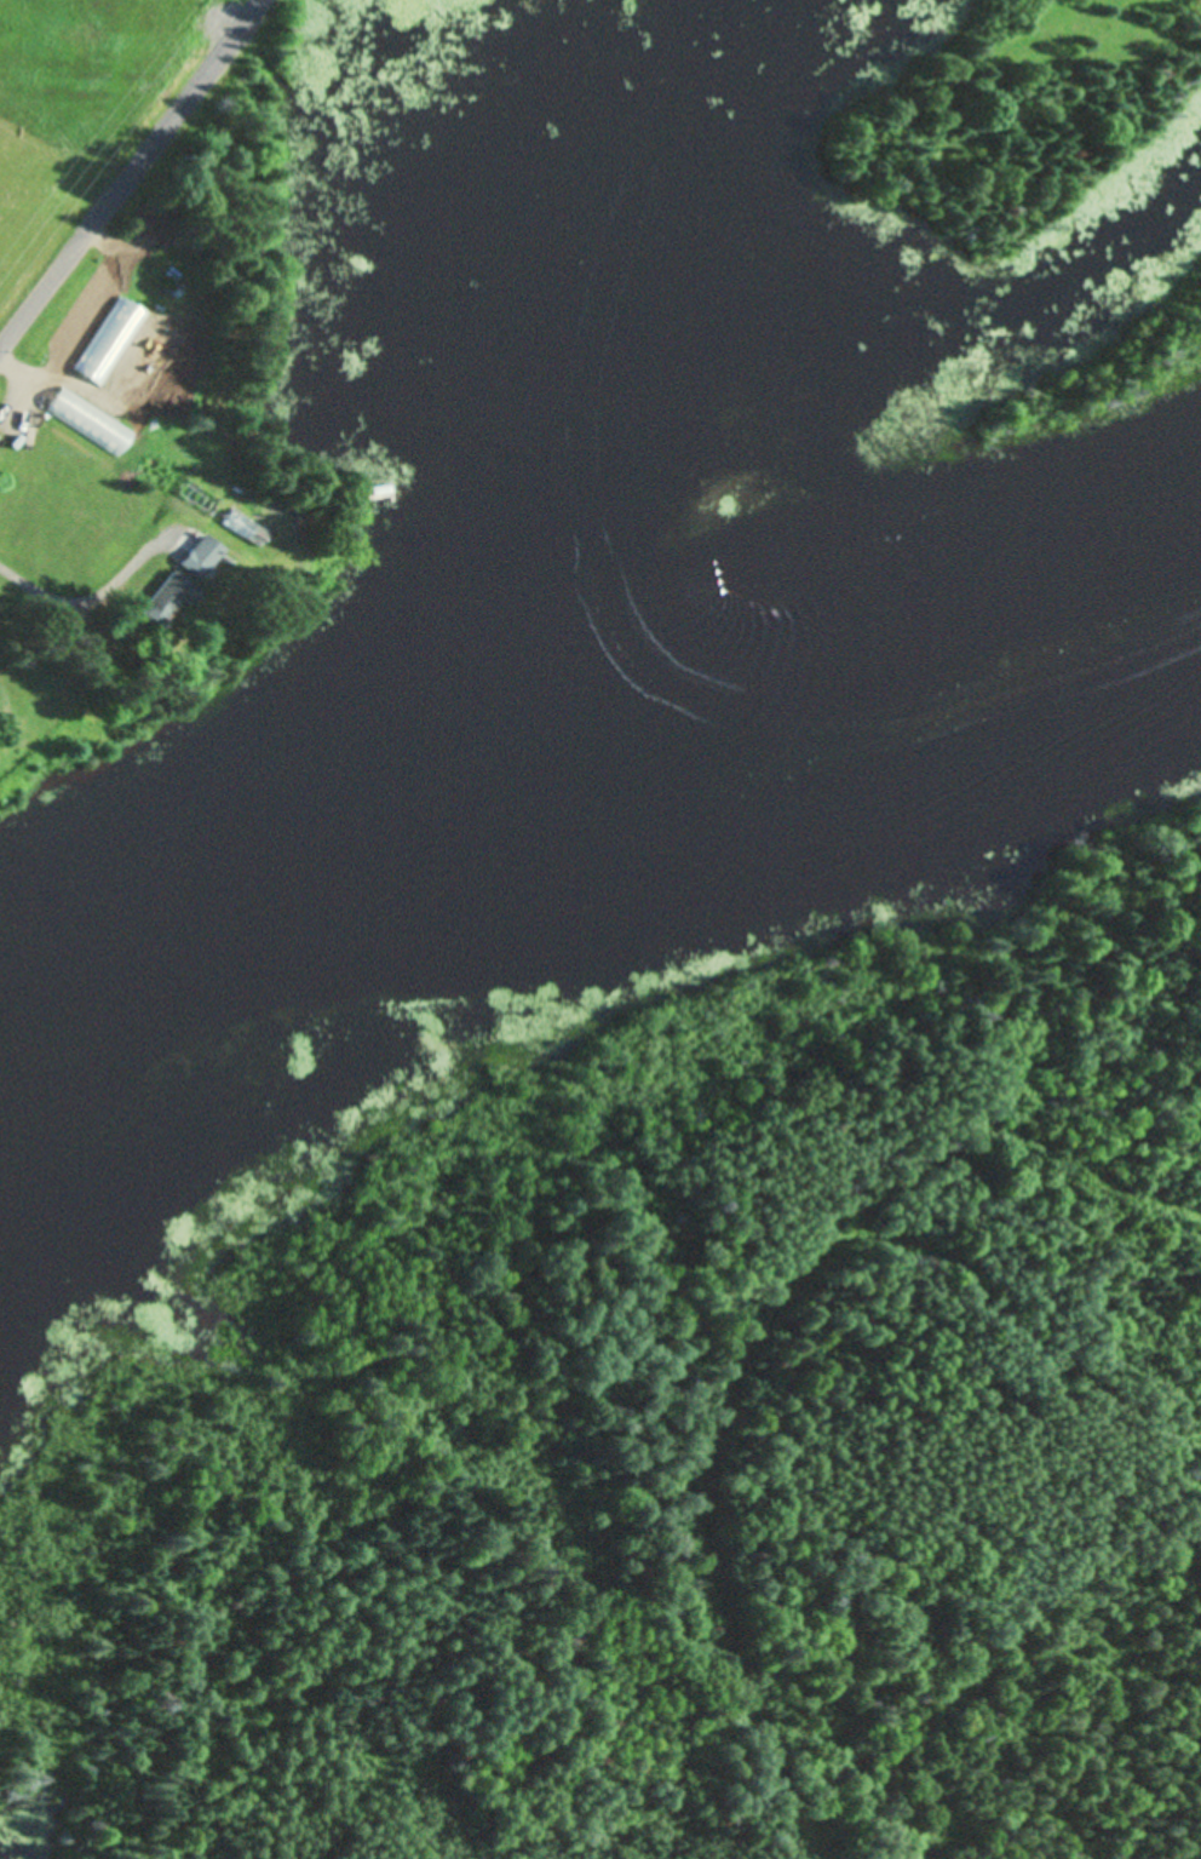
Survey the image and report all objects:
road: (260, 8)
road: (127, 185)
building: (120, 323)
building: (156, 333)
building: (270, 522)
building: (203, 561)
building: (171, 601)
building: (54, 679)
river: (581, 798)

